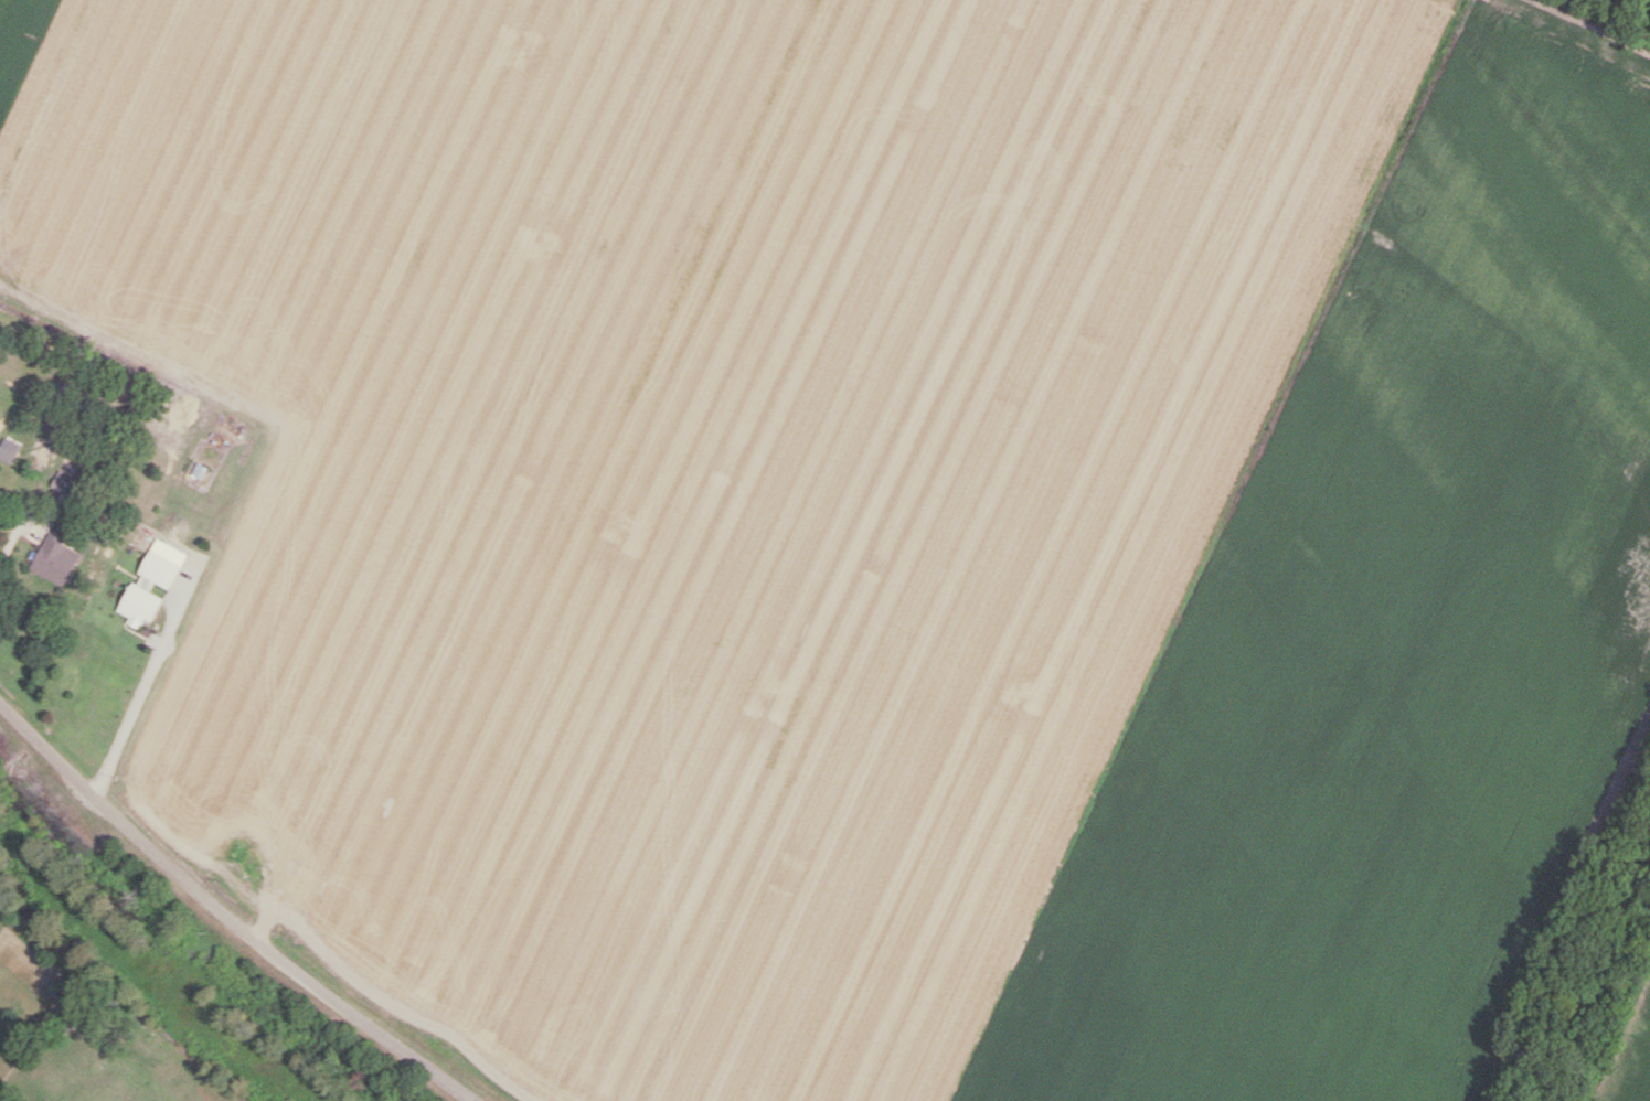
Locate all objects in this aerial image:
building: (11, 450)
building: (60, 560)
building: (157, 582)
road: (225, 915)
park: (12, 1041)

